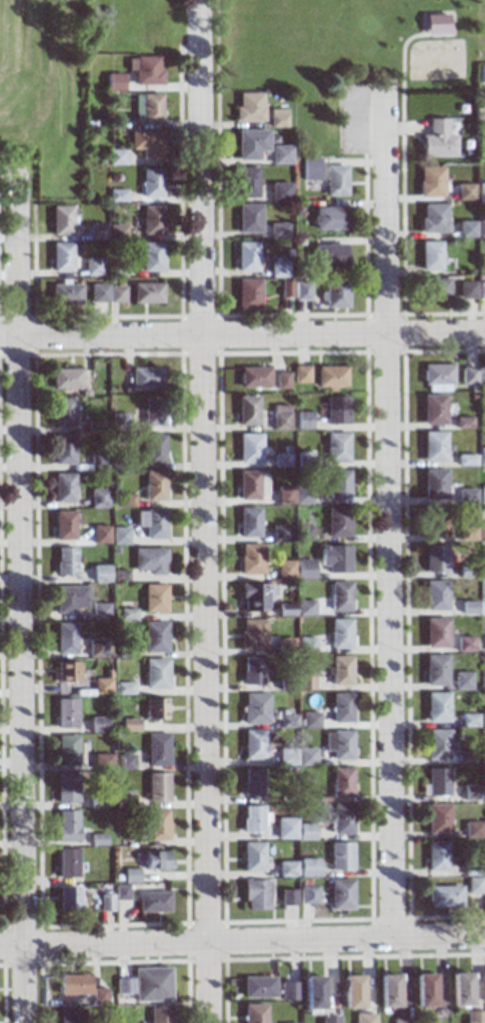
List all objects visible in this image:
park: (134, 25)
park: (342, 57)
road: (398, 57)
building: (145, 72)
building: (480, 75)
building: (114, 83)
airport: (47, 87)
building: (248, 107)
building: (147, 109)
building: (276, 117)
parking lot: (348, 121)
building: (437, 139)
building: (250, 143)
building: (147, 145)
building: (280, 154)
building: (113, 159)
building: (311, 168)
road: (199, 169)
building: (335, 180)
building: (246, 181)
building: (430, 181)
building: (151, 182)
building: (279, 191)
building: (464, 191)
building: (480, 191)
building: (118, 195)
building: (329, 217)
building: (248, 218)
building: (432, 218)
building: (152, 219)
building: (61, 220)
building: (466, 228)
building: (481, 228)
building: (277, 230)
building: (96, 231)
building: (117, 231)
road: (16, 255)
building: (329, 255)
building: (430, 255)
building: (60, 256)
building: (152, 256)
building: (246, 256)
building: (93, 267)
building: (278, 268)
building: (117, 269)
building: (433, 288)
building: (285, 289)
building: (301, 290)
building: (466, 290)
building: (481, 290)
building: (335, 292)
building: (65, 293)
building: (98, 293)
building: (148, 293)
building: (247, 293)
building: (117, 294)
road: (343, 336)
road: (8, 339)
road: (109, 339)
building: (301, 374)
building: (481, 376)
building: (254, 377)
building: (331, 377)
building: (437, 377)
building: (468, 377)
building: (146, 378)
building: (66, 379)
building: (282, 380)
building: (481, 398)
building: (336, 410)
building: (433, 410)
building: (247, 411)
building: (152, 412)
building: (62, 413)
building: (280, 417)
building: (303, 420)
building: (119, 421)
building: (462, 422)
building: (94, 426)
building: (116, 442)
building: (433, 447)
building: (249, 448)
building: (337, 448)
building: (154, 449)
building: (62, 450)
building: (481, 456)
building: (281, 460)
building: (305, 460)
building: (466, 460)
building: (97, 461)
building: (118, 462)
building: (433, 484)
building: (251, 485)
building: (339, 485)
building: (155, 487)
building: (63, 488)
building: (482, 494)
building: (284, 496)
building: (303, 496)
building: (466, 496)
building: (98, 498)
building: (125, 500)
road: (388, 516)
building: (337, 522)
building: (434, 522)
building: (248, 523)
building: (152, 524)
building: (63, 526)
building: (482, 531)
building: (303, 533)
building: (279, 534)
building: (466, 534)
building: (100, 535)
building: (119, 536)
building: (335, 559)
building: (434, 559)
building: (251, 560)
building: (149, 561)
building: (64, 562)
building: (284, 570)
building: (305, 570)
building: (482, 571)
building: (466, 572)
building: (100, 574)
building: (119, 576)
building: (434, 596)
building: (254, 597)
building: (340, 597)
building: (68, 599)
building: (154, 599)
building: (468, 608)
building: (305, 609)
building: (285, 610)
building: (99, 612)
building: (126, 614)
building: (339, 634)
building: (435, 634)
building: (251, 636)
building: (155, 638)
building: (65, 639)
road: (205, 641)
building: (484, 644)
building: (305, 645)
building: (463, 645)
building: (284, 646)
building: (95, 649)
building: (125, 651)
building: (253, 671)
building: (340, 671)
building: (434, 671)
building: (66, 673)
building: (156, 675)
road: (19, 681)
building: (461, 681)
building: (304, 682)
building: (286, 685)
building: (101, 687)
building: (122, 689)
building: (254, 709)
building: (340, 709)
building: (436, 709)
building: (155, 710)
building: (65, 715)
building: (483, 718)
building: (309, 721)
building: (468, 721)
building: (286, 722)
building: (97, 725)
building: (129, 726)
building: (338, 745)
building: (252, 746)
building: (436, 746)
building: (157, 751)
building: (65, 752)
building: (306, 757)
building: (286, 758)
building: (464, 758)
building: (101, 763)
building: (125, 763)
building: (342, 783)
building: (251, 784)
building: (435, 784)
building: (65, 789)
building: (158, 789)
building: (483, 793)
building: (470, 794)
building: (124, 800)
building: (96, 802)
building: (252, 820)
building: (342, 821)
building: (437, 821)
building: (158, 826)
building: (66, 828)
building: (286, 830)
building: (472, 831)
building: (484, 831)
building: (306, 833)
building: (97, 841)
building: (341, 857)
building: (436, 858)
building: (252, 859)
building: (156, 862)
building: (66, 865)
building: (308, 868)
building: (287, 870)
building: (471, 871)
building: (131, 877)
building: (473, 887)
building: (484, 887)
building: (121, 894)
building: (255, 895)
building: (341, 896)
building: (308, 897)
building: (288, 898)
building: (444, 898)
building: (66, 900)
building: (105, 902)
building: (153, 904)
road: (345, 941)
road: (103, 947)
building: (149, 983)
building: (70, 984)
road: (207, 984)
building: (121, 985)
building: (257, 986)
building: (423, 988)
building: (458, 988)
building: (287, 990)
building: (387, 990)
building: (312, 991)
building: (351, 991)
building: (96, 995)
building: (252, 1013)
building: (158, 1015)
building: (67, 1016)
building: (473, 1016)
building: (363, 1018)
building: (328, 1019)
building: (399, 1020)

